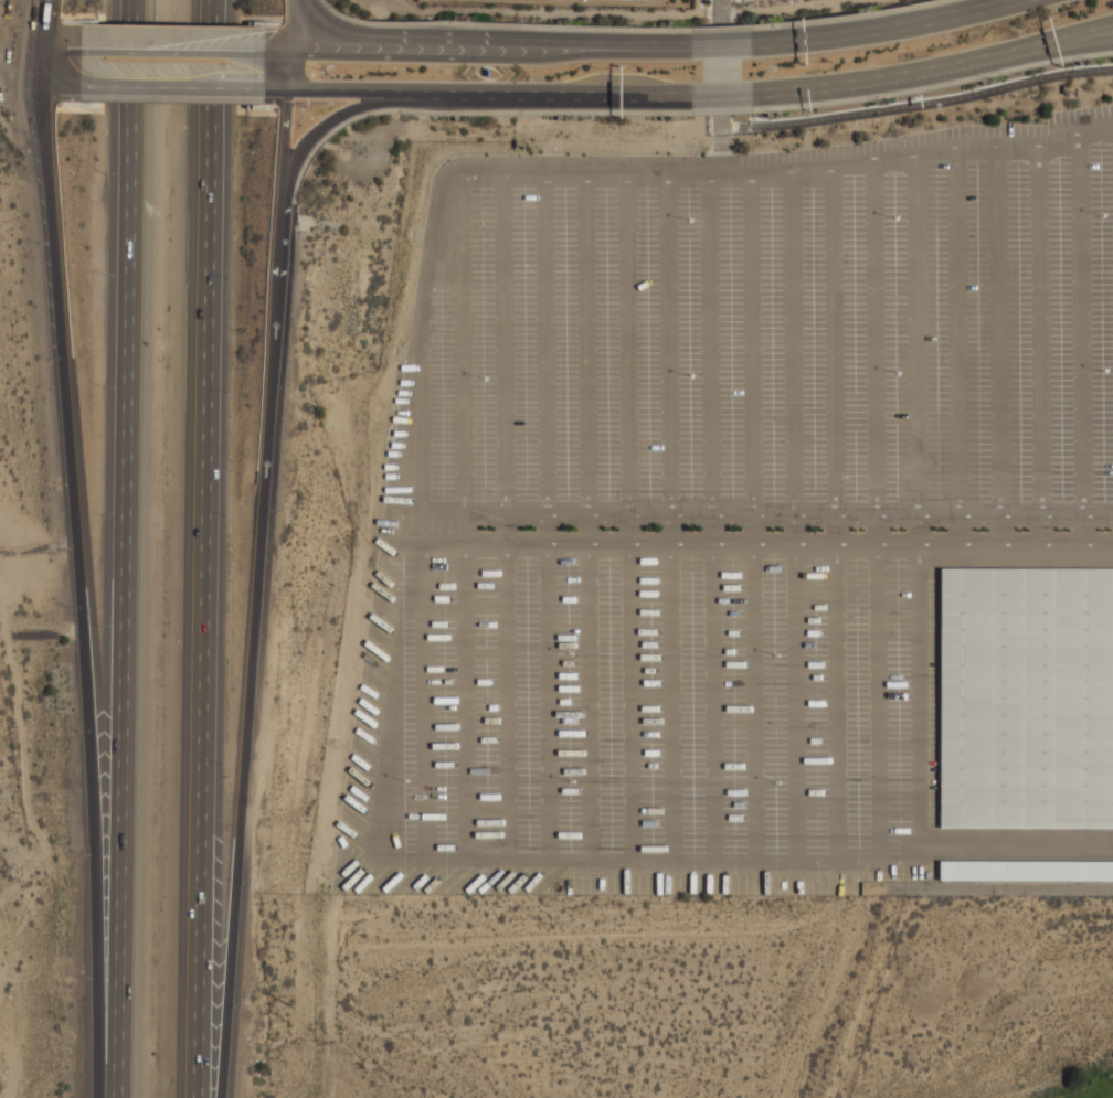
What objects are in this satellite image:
road: (1011, 4)
road: (1018, 4)
road: (45, 24)
road: (295, 26)
road: (1092, 26)
road: (1092, 31)
road: (876, 32)
road: (451, 38)
road: (720, 49)
road: (62, 50)
road: (649, 50)
road: (172, 52)
road: (278, 53)
road: (449, 56)
road: (972, 57)
road: (43, 67)
road: (290, 71)
road: (718, 77)
road: (812, 84)
road: (62, 85)
road: (172, 86)
road: (276, 87)
road: (362, 88)
road: (721, 90)
road: (563, 92)
road: (916, 106)
road: (336, 118)
road: (285, 146)
road: (786, 174)
road: (1080, 327)
road: (1038, 330)
road: (997, 331)
road: (956, 332)
road: (916, 334)
road: (873, 338)
road: (833, 341)
road: (458, 344)
road: (506, 344)
road: (545, 344)
road: (589, 344)
road: (626, 344)
road: (670, 344)
road: (794, 344)
road: (710, 345)
road: (753, 345)
road: (418, 417)
road: (761, 515)
parking lot: (749, 524)
road: (506, 529)
road: (548, 529)
road: (591, 529)
road: (628, 529)
road: (671, 529)
road: (711, 529)
road: (753, 529)
road: (794, 529)
road: (834, 529)
road: (875, 529)
road: (919, 529)
road: (958, 529)
road: (998, 529)
road: (1039, 529)
road: (1081, 530)
road: (759, 543)
road: (125, 548)
road: (211, 548)
road: (87, 590)
road: (258, 651)
building: (1026, 699)
building: (1026, 868)
park: (995, 1001)

